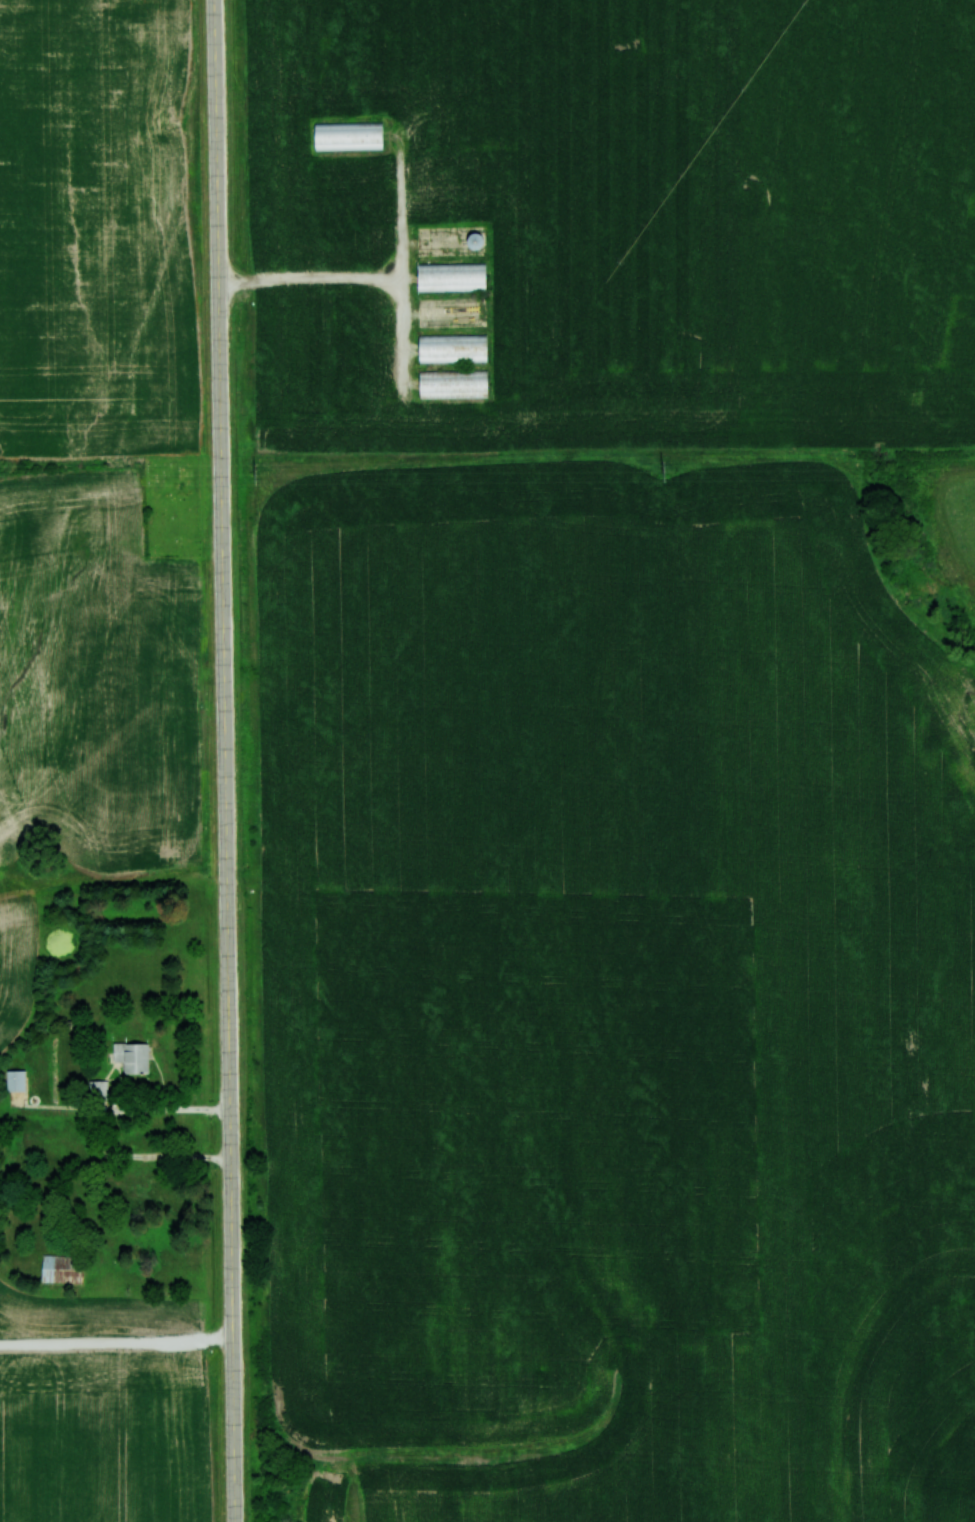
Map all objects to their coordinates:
building: (346, 136)
building: (473, 240)
building: (450, 277)
building: (451, 348)
building: (451, 384)
power tower: (664, 470)
power tower: (257, 474)
road: (223, 760)
building: (131, 1057)
building: (15, 1080)
building: (98, 1090)
building: (61, 1268)

